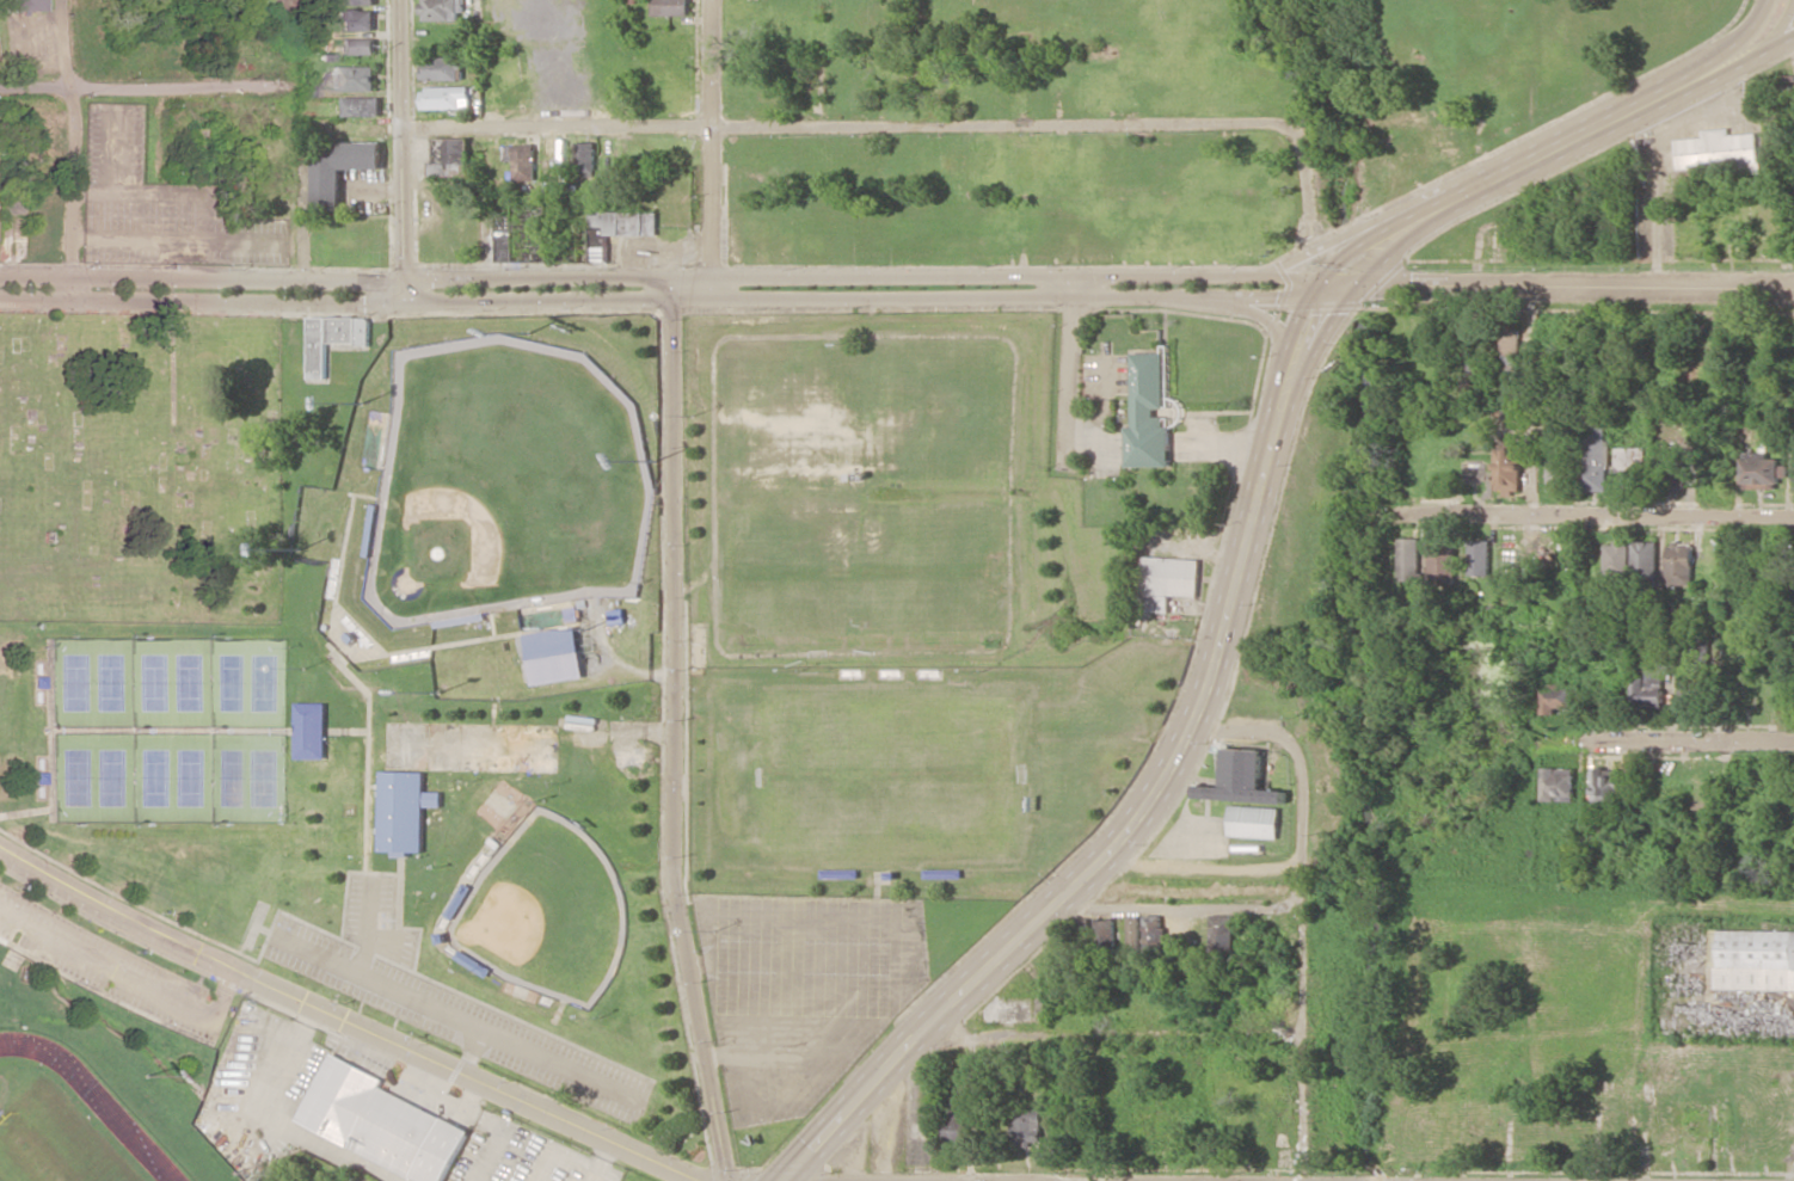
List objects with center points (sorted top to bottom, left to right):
building: (355, 2)
building: (23, 5)
building: (670, 7)
building: (441, 10)
building: (356, 19)
road: (1782, 43)
building: (356, 47)
road: (1720, 50)
road: (1744, 63)
building: (443, 68)
building: (351, 79)
building: (1786, 88)
road: (139, 90)
building: (308, 90)
building: (446, 98)
building: (361, 106)
road: (849, 127)
road: (68, 149)
road: (400, 149)
road: (1556, 150)
building: (1718, 152)
building: (450, 156)
building: (583, 158)
building: (522, 161)
building: (339, 167)
road: (1307, 186)
road: (300, 227)
building: (619, 228)
road: (1344, 236)
building: (506, 238)
road: (1350, 276)
road: (669, 277)
traffic signals: (1338, 288)
road: (1566, 289)
road: (669, 300)
road: (1270, 325)
building: (331, 339)
road: (1069, 374)
building: (1148, 413)
building: (1593, 455)
building: (1627, 465)
building: (1509, 469)
building: (1555, 470)
building: (1793, 473)
building: (1672, 476)
park: (505, 482)
road: (1601, 513)
building: (1644, 555)
building: (1615, 556)
building: (1479, 558)
building: (1409, 559)
building: (1443, 565)
building: (1679, 566)
building: (1167, 580)
road: (674, 584)
road: (1509, 638)
building: (553, 656)
building: (1695, 668)
building: (1647, 689)
building: (1555, 699)
park: (170, 730)
building: (312, 731)
road: (1241, 733)
road: (1677, 744)
building: (472, 748)
building: (1241, 779)
building: (1558, 785)
building: (1606, 786)
building: (404, 808)
building: (1253, 822)
road: (1123, 831)
road: (1176, 906)
park: (546, 911)
road: (374, 925)
building: (1151, 928)
building: (1132, 930)
building: (1219, 931)
building: (1105, 934)
road: (386, 943)
parking lot: (110, 955)
road: (907, 955)
building: (1756, 960)
road: (708, 961)
road: (1304, 961)
road: (860, 964)
road: (128, 978)
road: (821, 984)
parking lot: (804, 990)
parking lot: (444, 999)
road: (779, 1003)
road: (733, 1008)
road: (460, 1019)
road: (351, 1021)
road: (1111, 1035)
road: (473, 1050)
road: (289, 1059)
road: (472, 1094)
track: (92, 1100)
road: (466, 1111)
building: (381, 1122)
building: (1028, 1126)
building: (957, 1130)
park: (51, 1143)
road: (333, 1148)
road: (558, 1149)
parking lot: (523, 1156)
road: (601, 1158)
traffic signals: (782, 1180)

